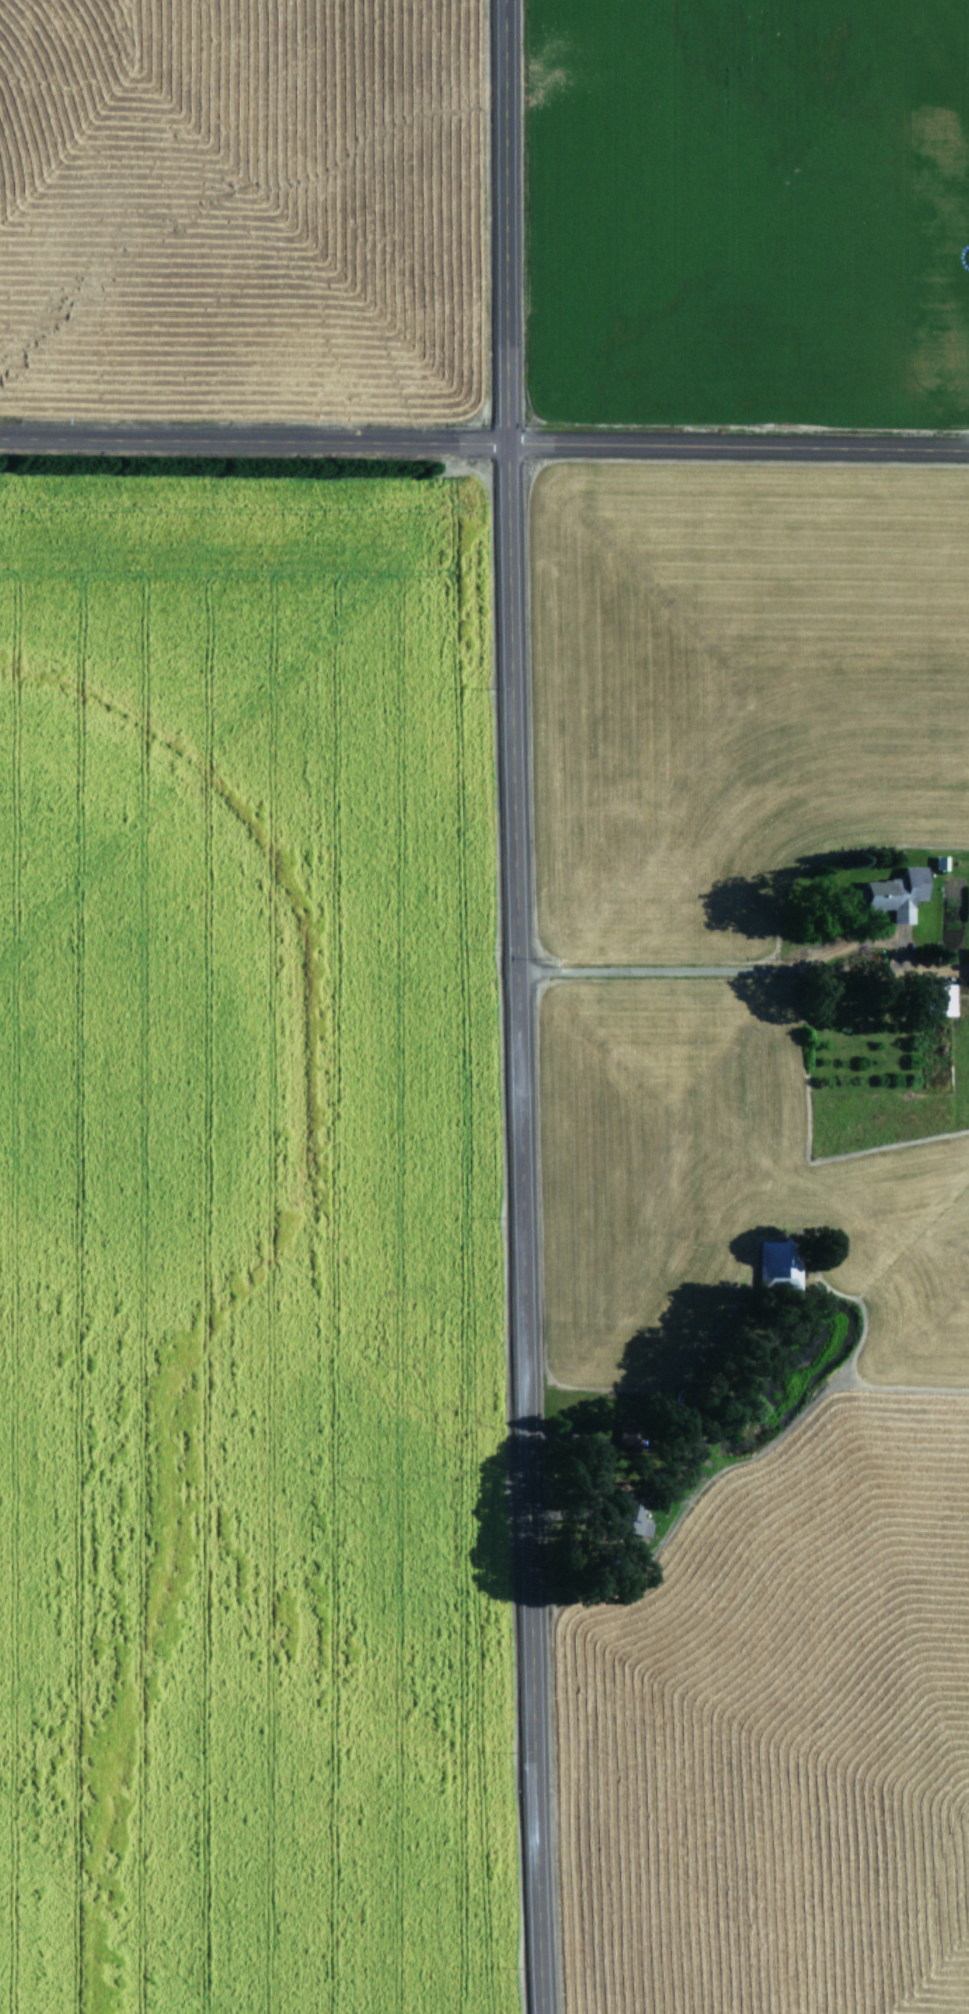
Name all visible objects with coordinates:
crop: (233, 206)
crop: (744, 211)
road: (484, 442)
building: (937, 862)
building: (891, 894)
building: (933, 999)
road: (506, 1007)
crop: (757, 1226)
crop: (247, 1246)
building: (774, 1266)
building: (630, 1526)

